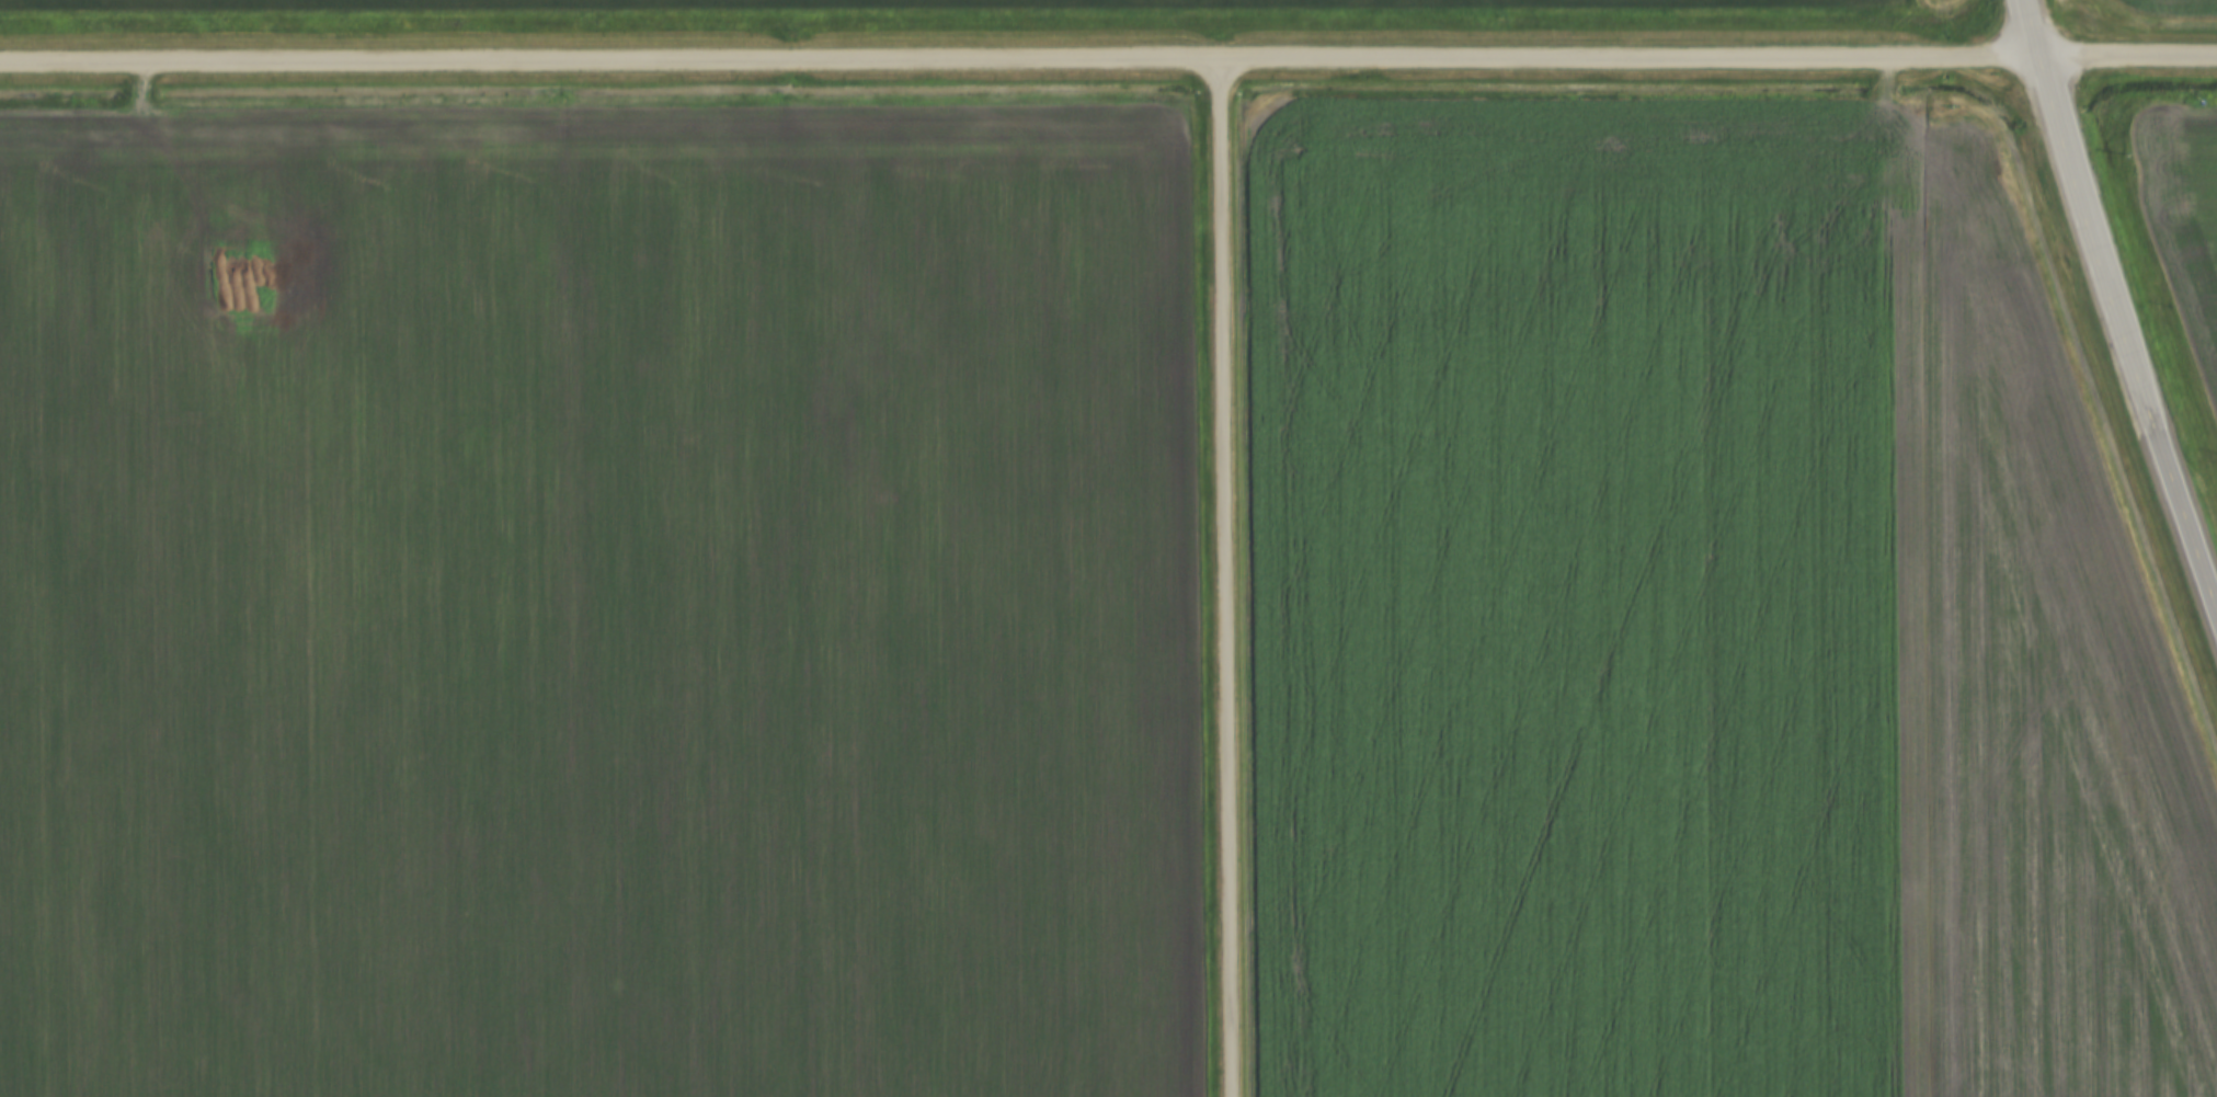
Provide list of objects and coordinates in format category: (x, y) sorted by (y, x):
road: (2026, 27)
road: (1108, 60)
road: (2122, 335)
road: (1223, 579)

